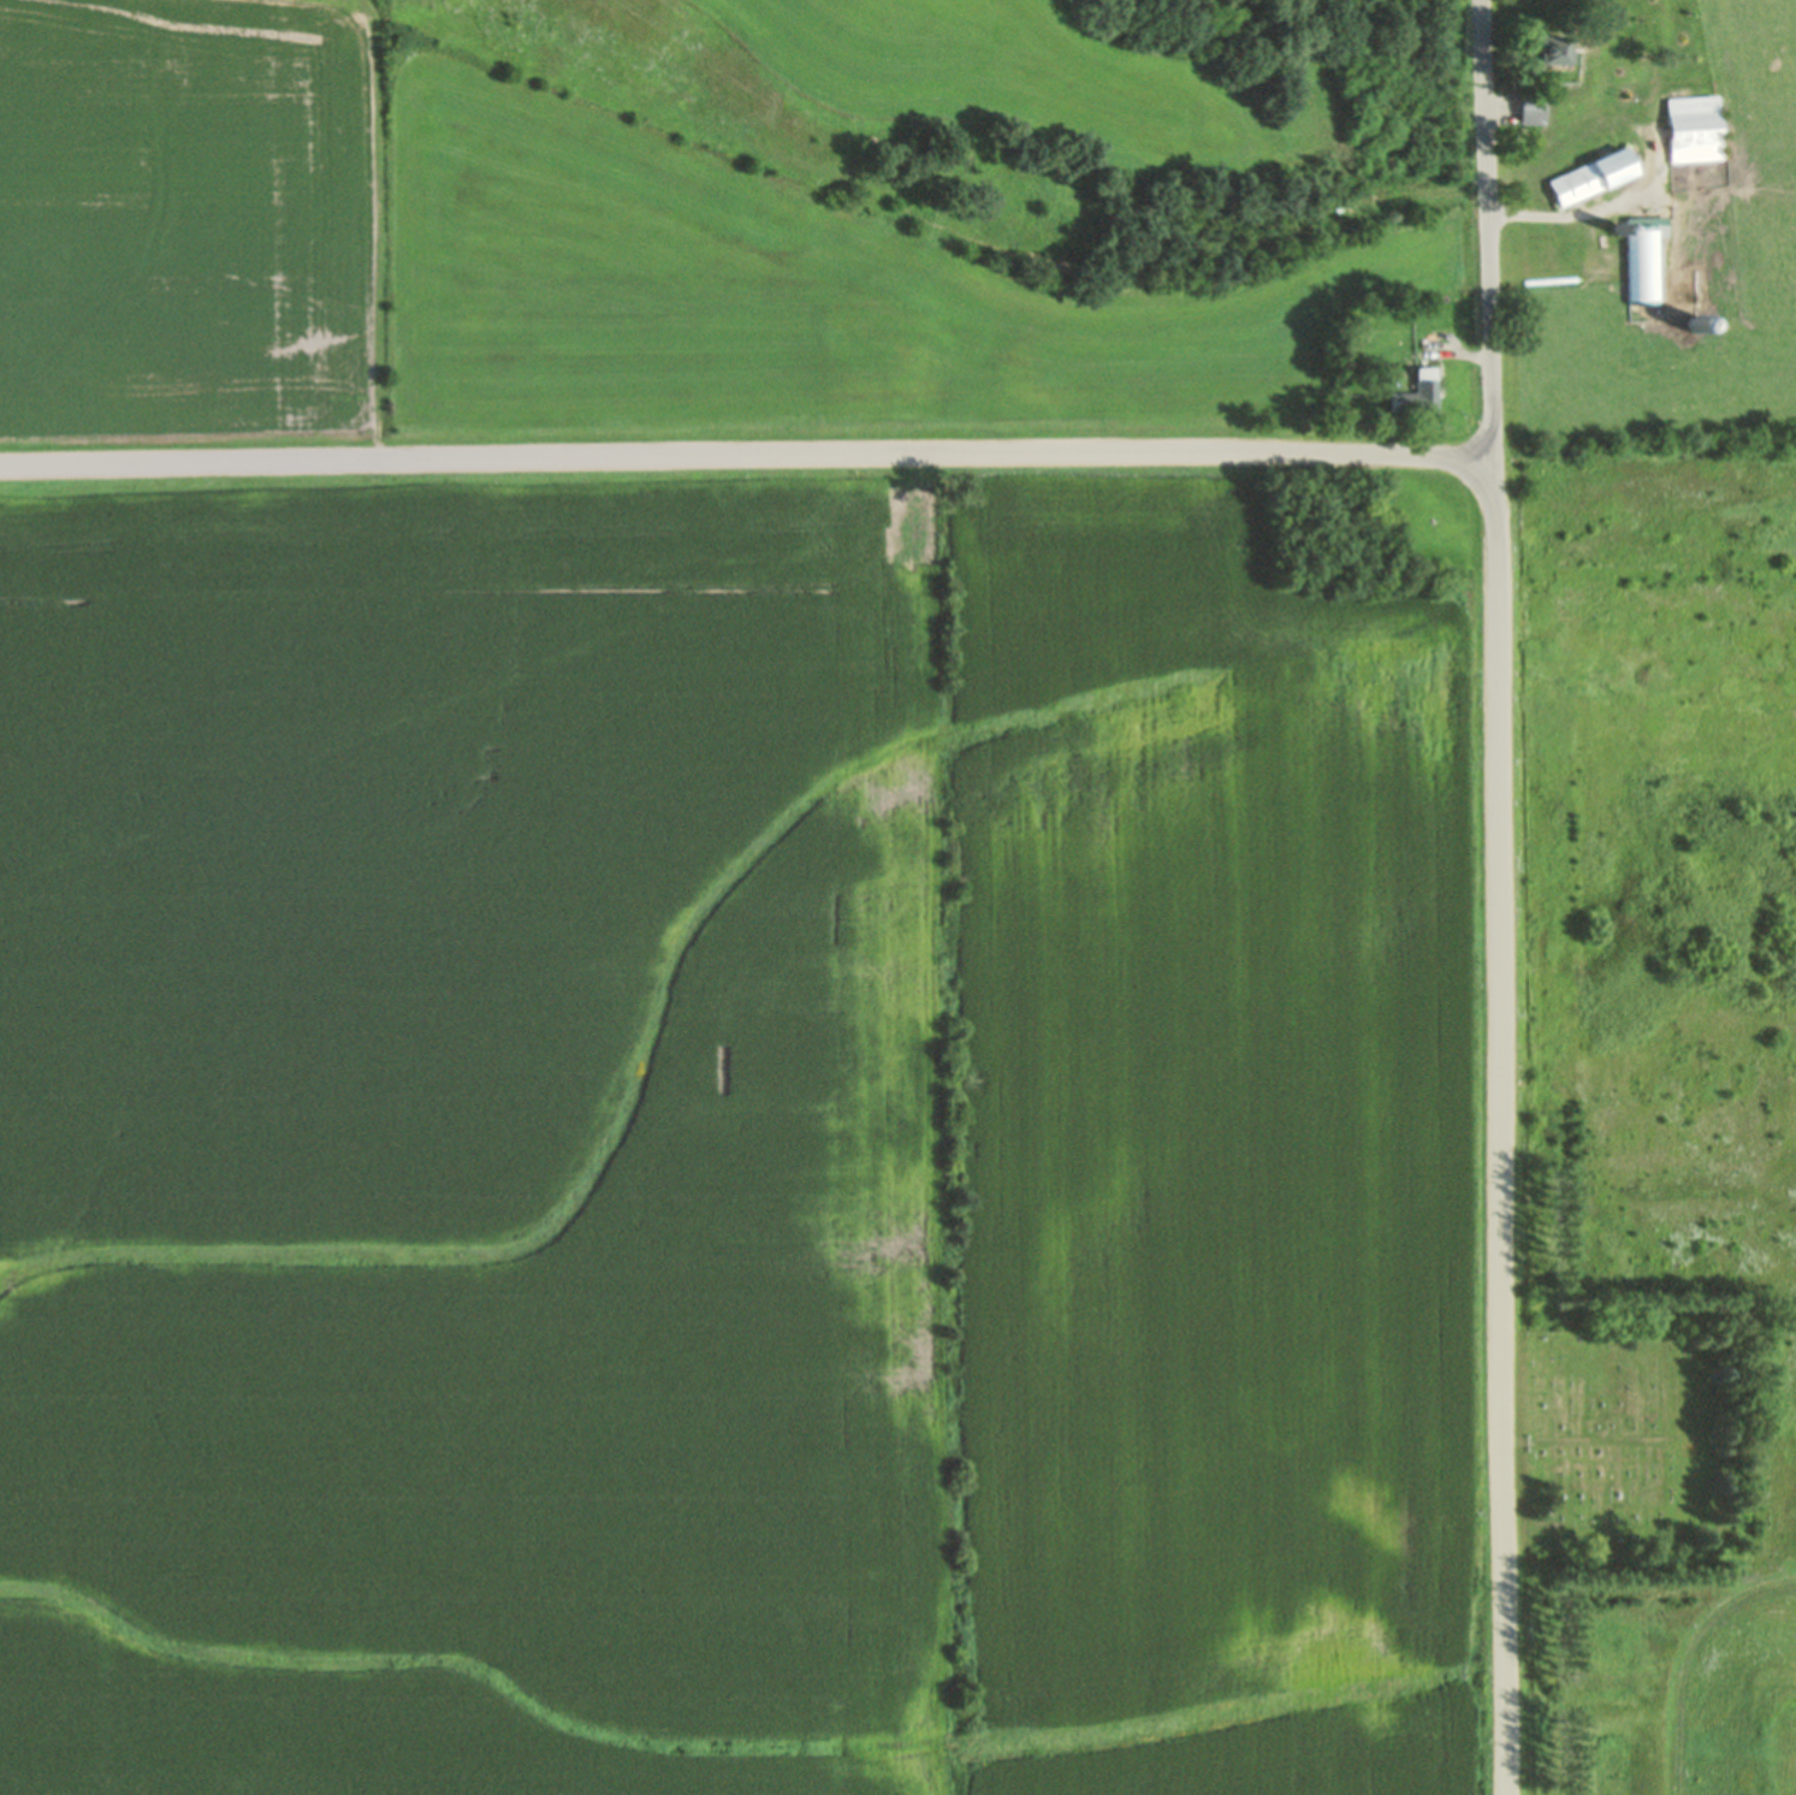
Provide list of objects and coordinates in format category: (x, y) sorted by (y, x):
building: (1546, 48)
building: (1530, 107)
building: (1694, 128)
building: (1590, 177)
road: (1587, 214)
road: (375, 221)
road: (1489, 243)
building: (1644, 271)
road: (1435, 354)
building: (1417, 392)
road: (1406, 457)
landfill: (1662, 1023)
park: (1637, 1438)

